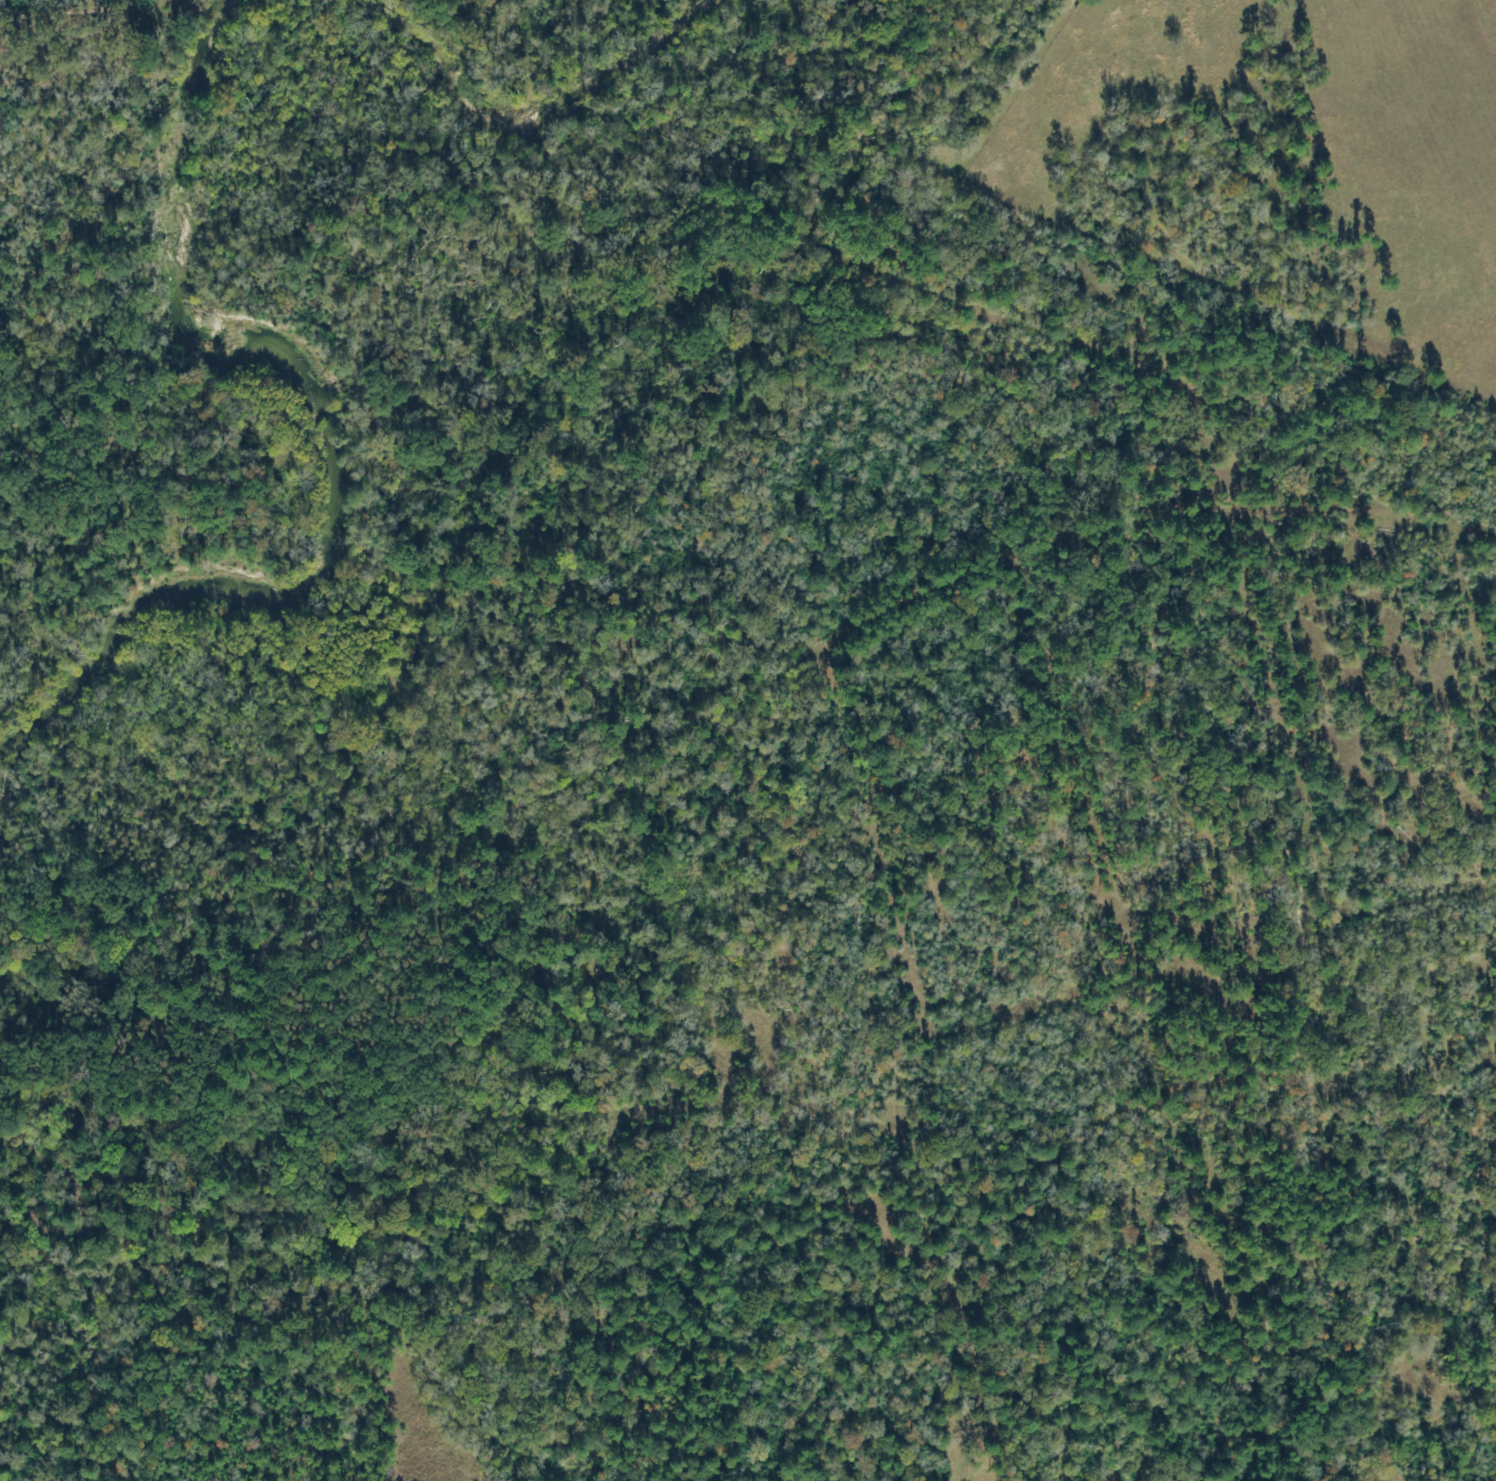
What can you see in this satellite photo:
road: (1011, 85)
road: (1263, 503)
road: (426, 831)
road: (1372, 840)
road: (920, 985)

